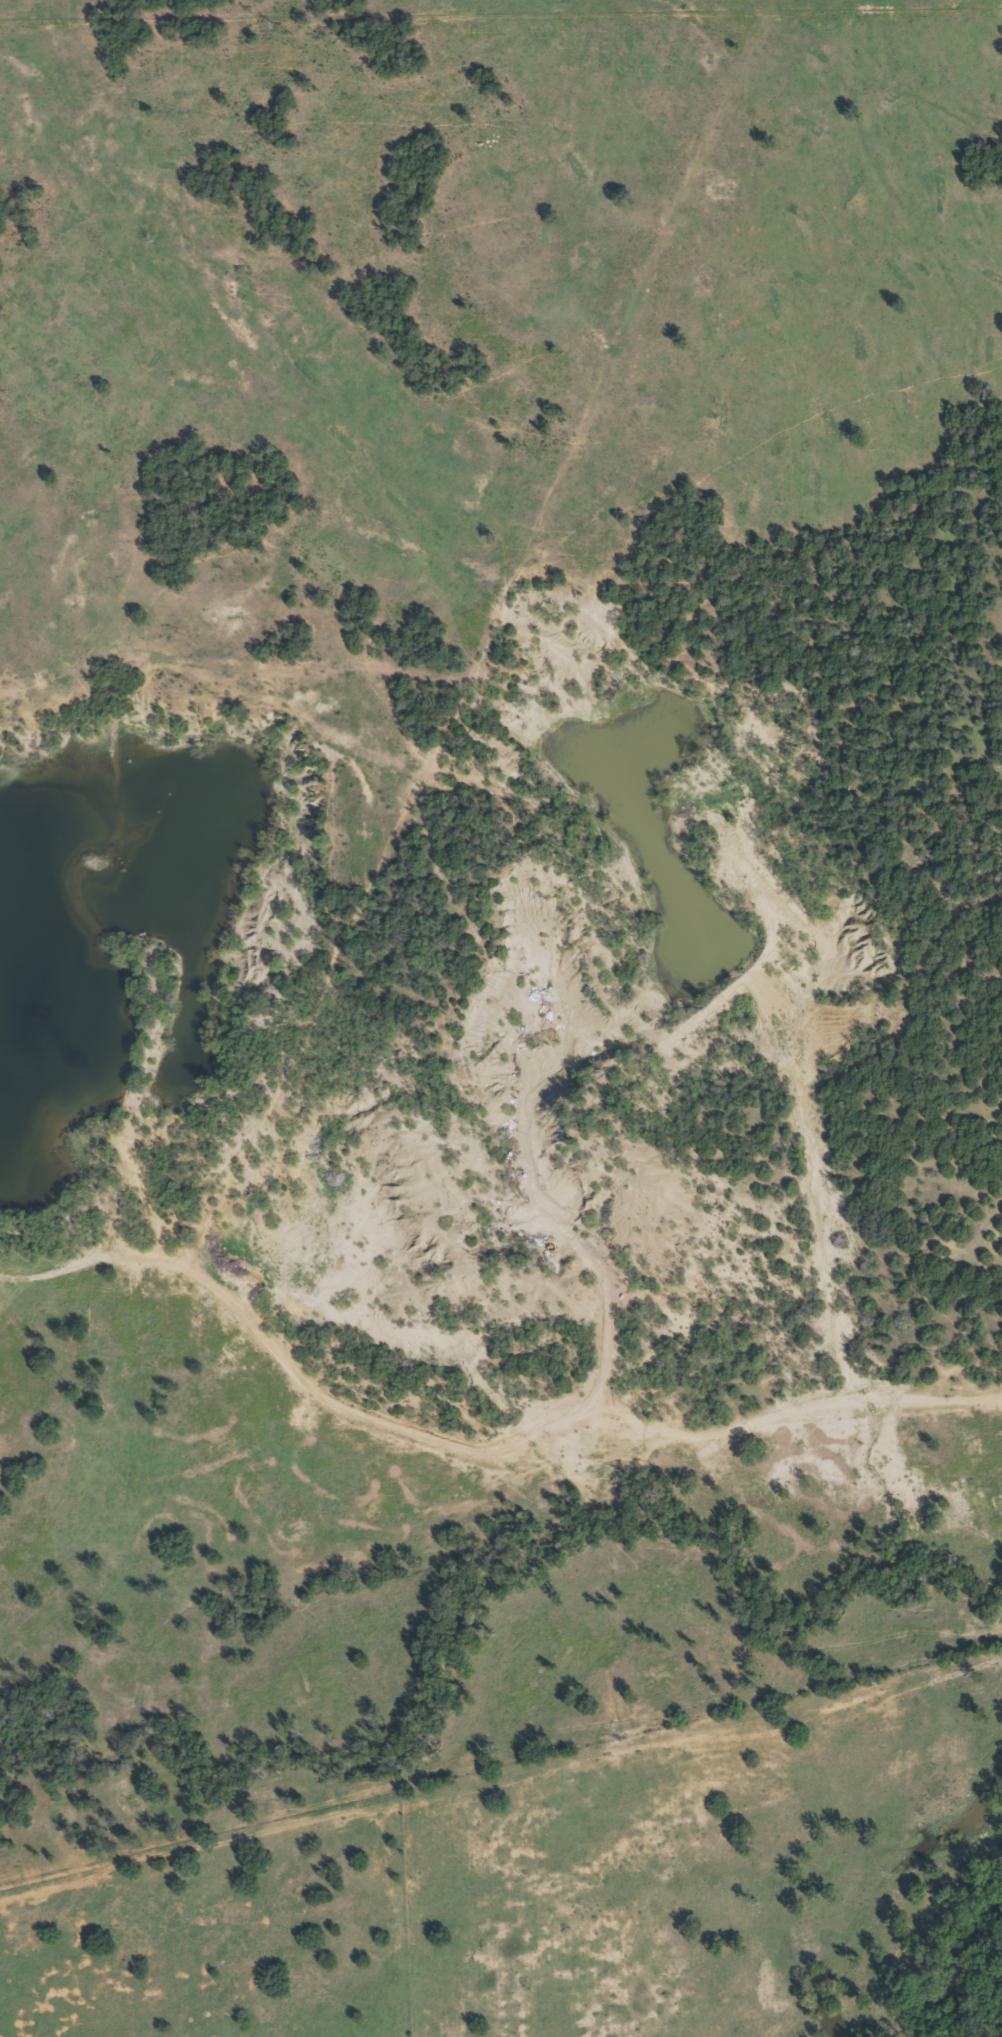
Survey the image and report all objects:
road: (477, 1455)

